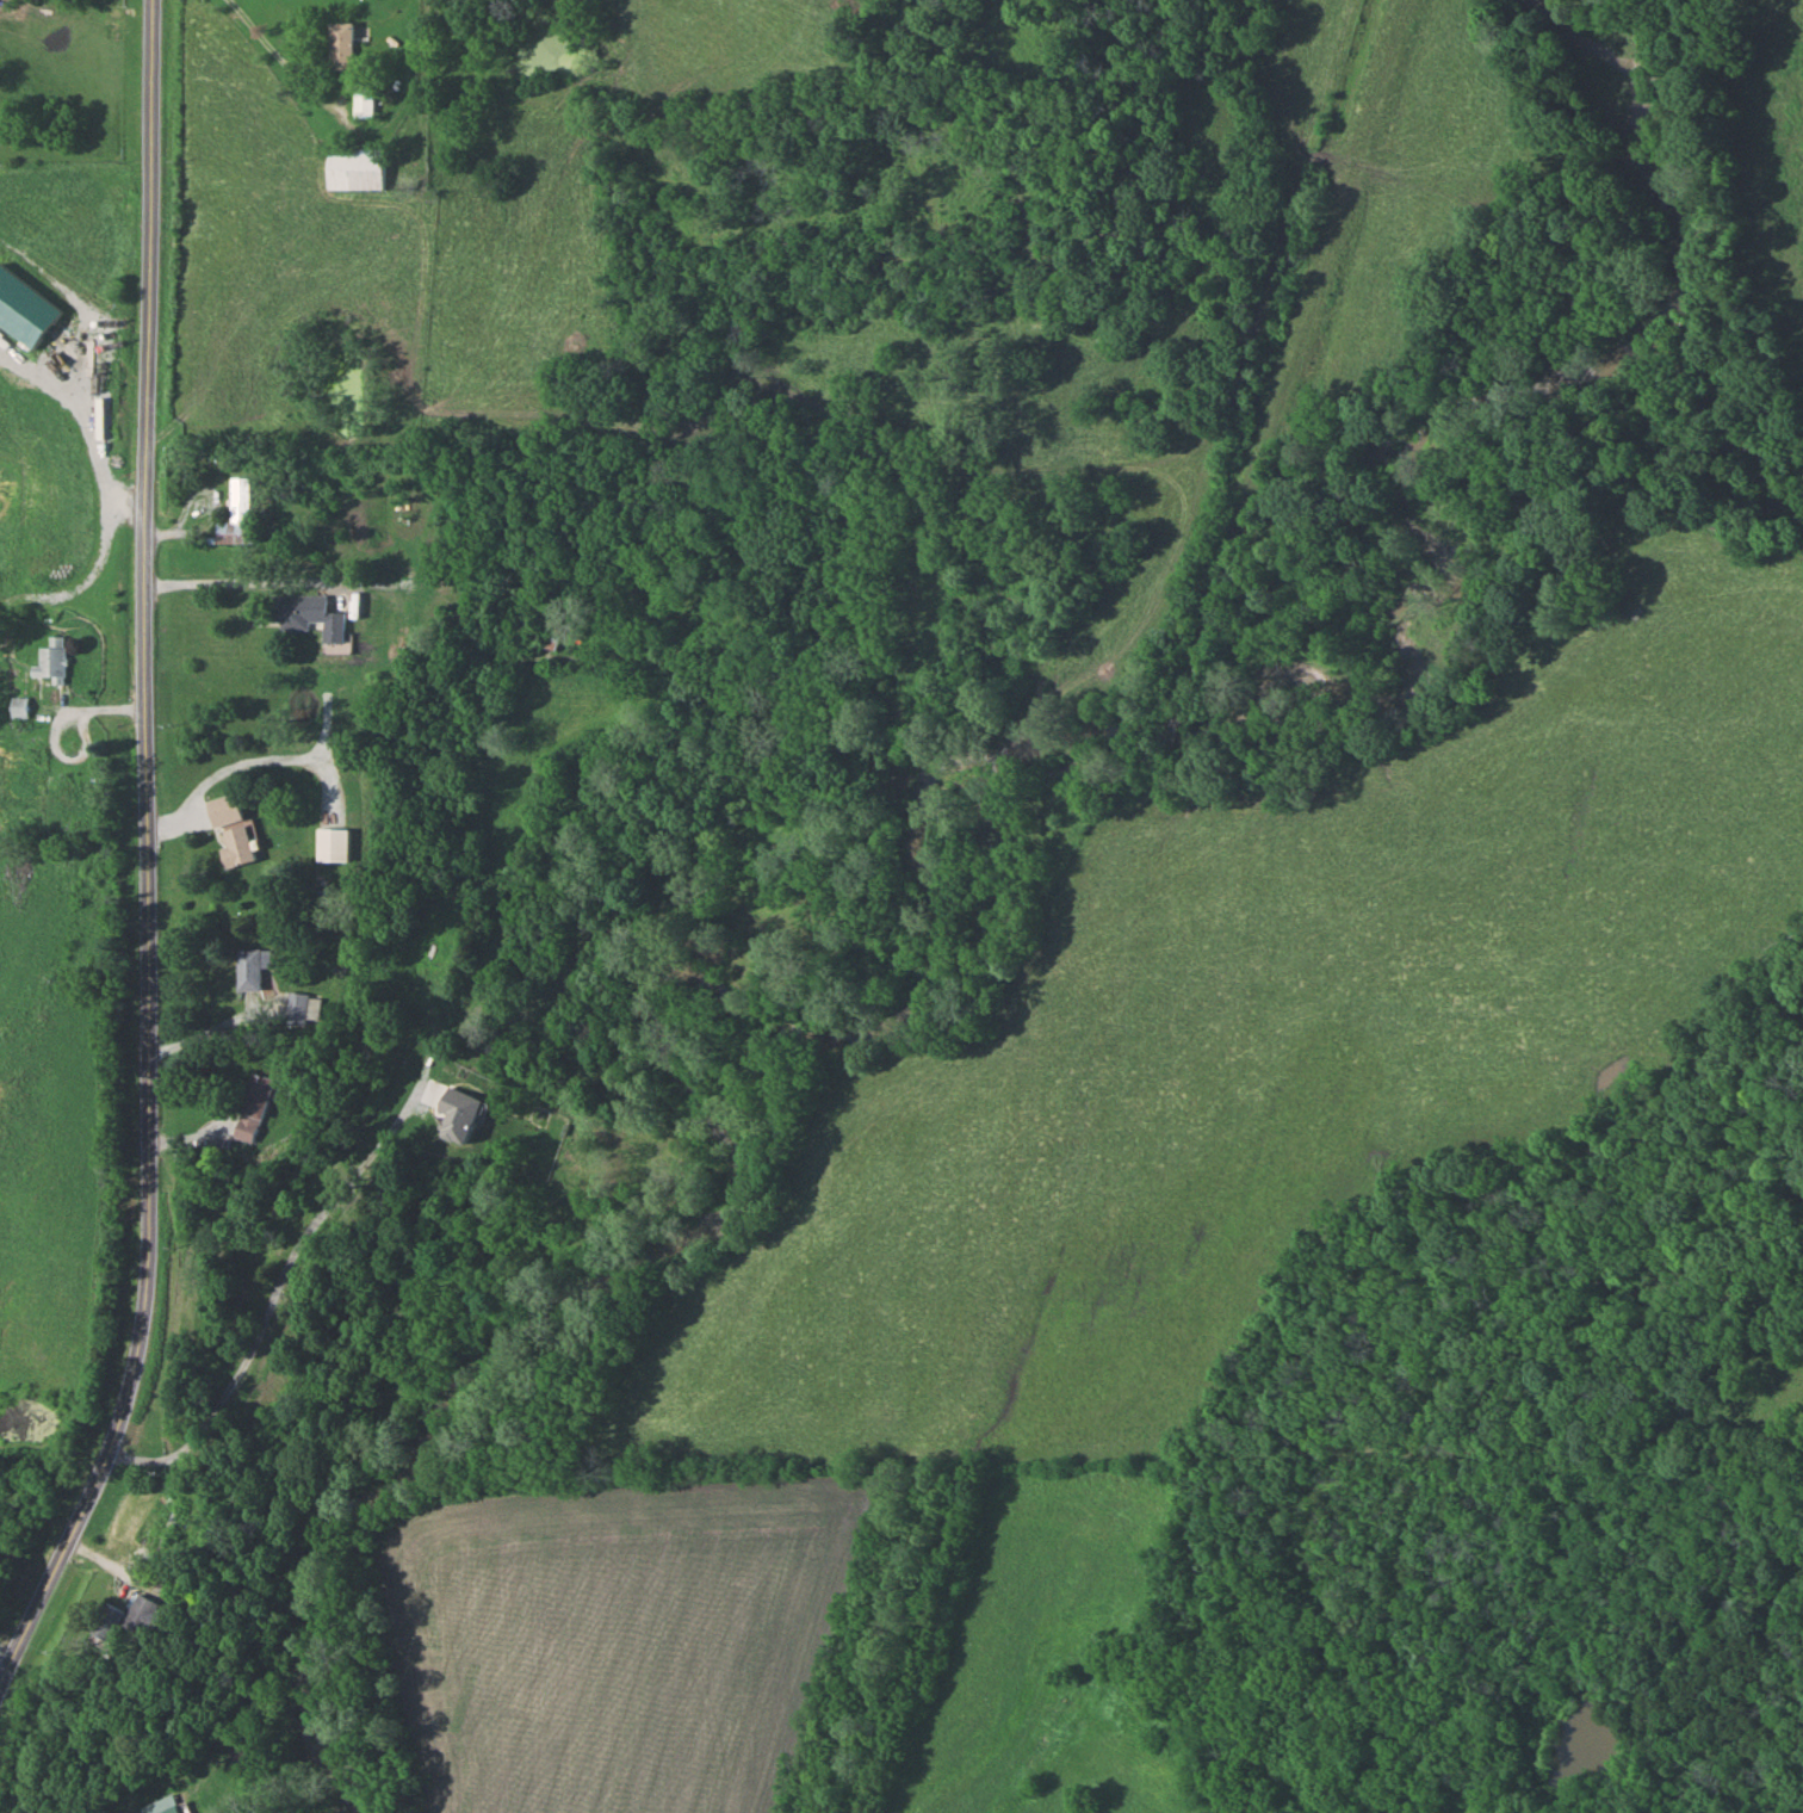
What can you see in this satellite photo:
road: (6, 1)
building: (341, 47)
road: (284, 58)
building: (365, 101)
building: (358, 169)
building: (240, 516)
road: (246, 593)
building: (308, 617)
building: (547, 643)
building: (56, 663)
building: (233, 833)
building: (335, 848)
road: (156, 868)
building: (253, 970)
building: (305, 1008)
building: (421, 1044)
road: (235, 1045)
building: (434, 1088)
building: (258, 1100)
building: (148, 1616)
building: (110, 1622)
building: (174, 1811)

